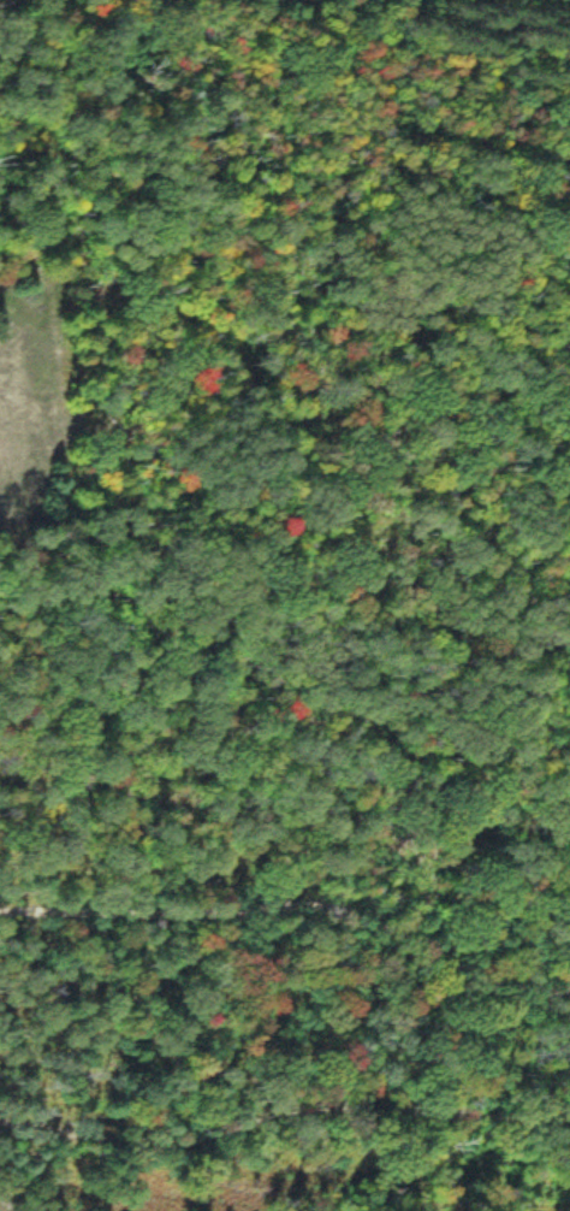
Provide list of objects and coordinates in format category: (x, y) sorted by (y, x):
road: (393, 130)
road: (280, 1191)

